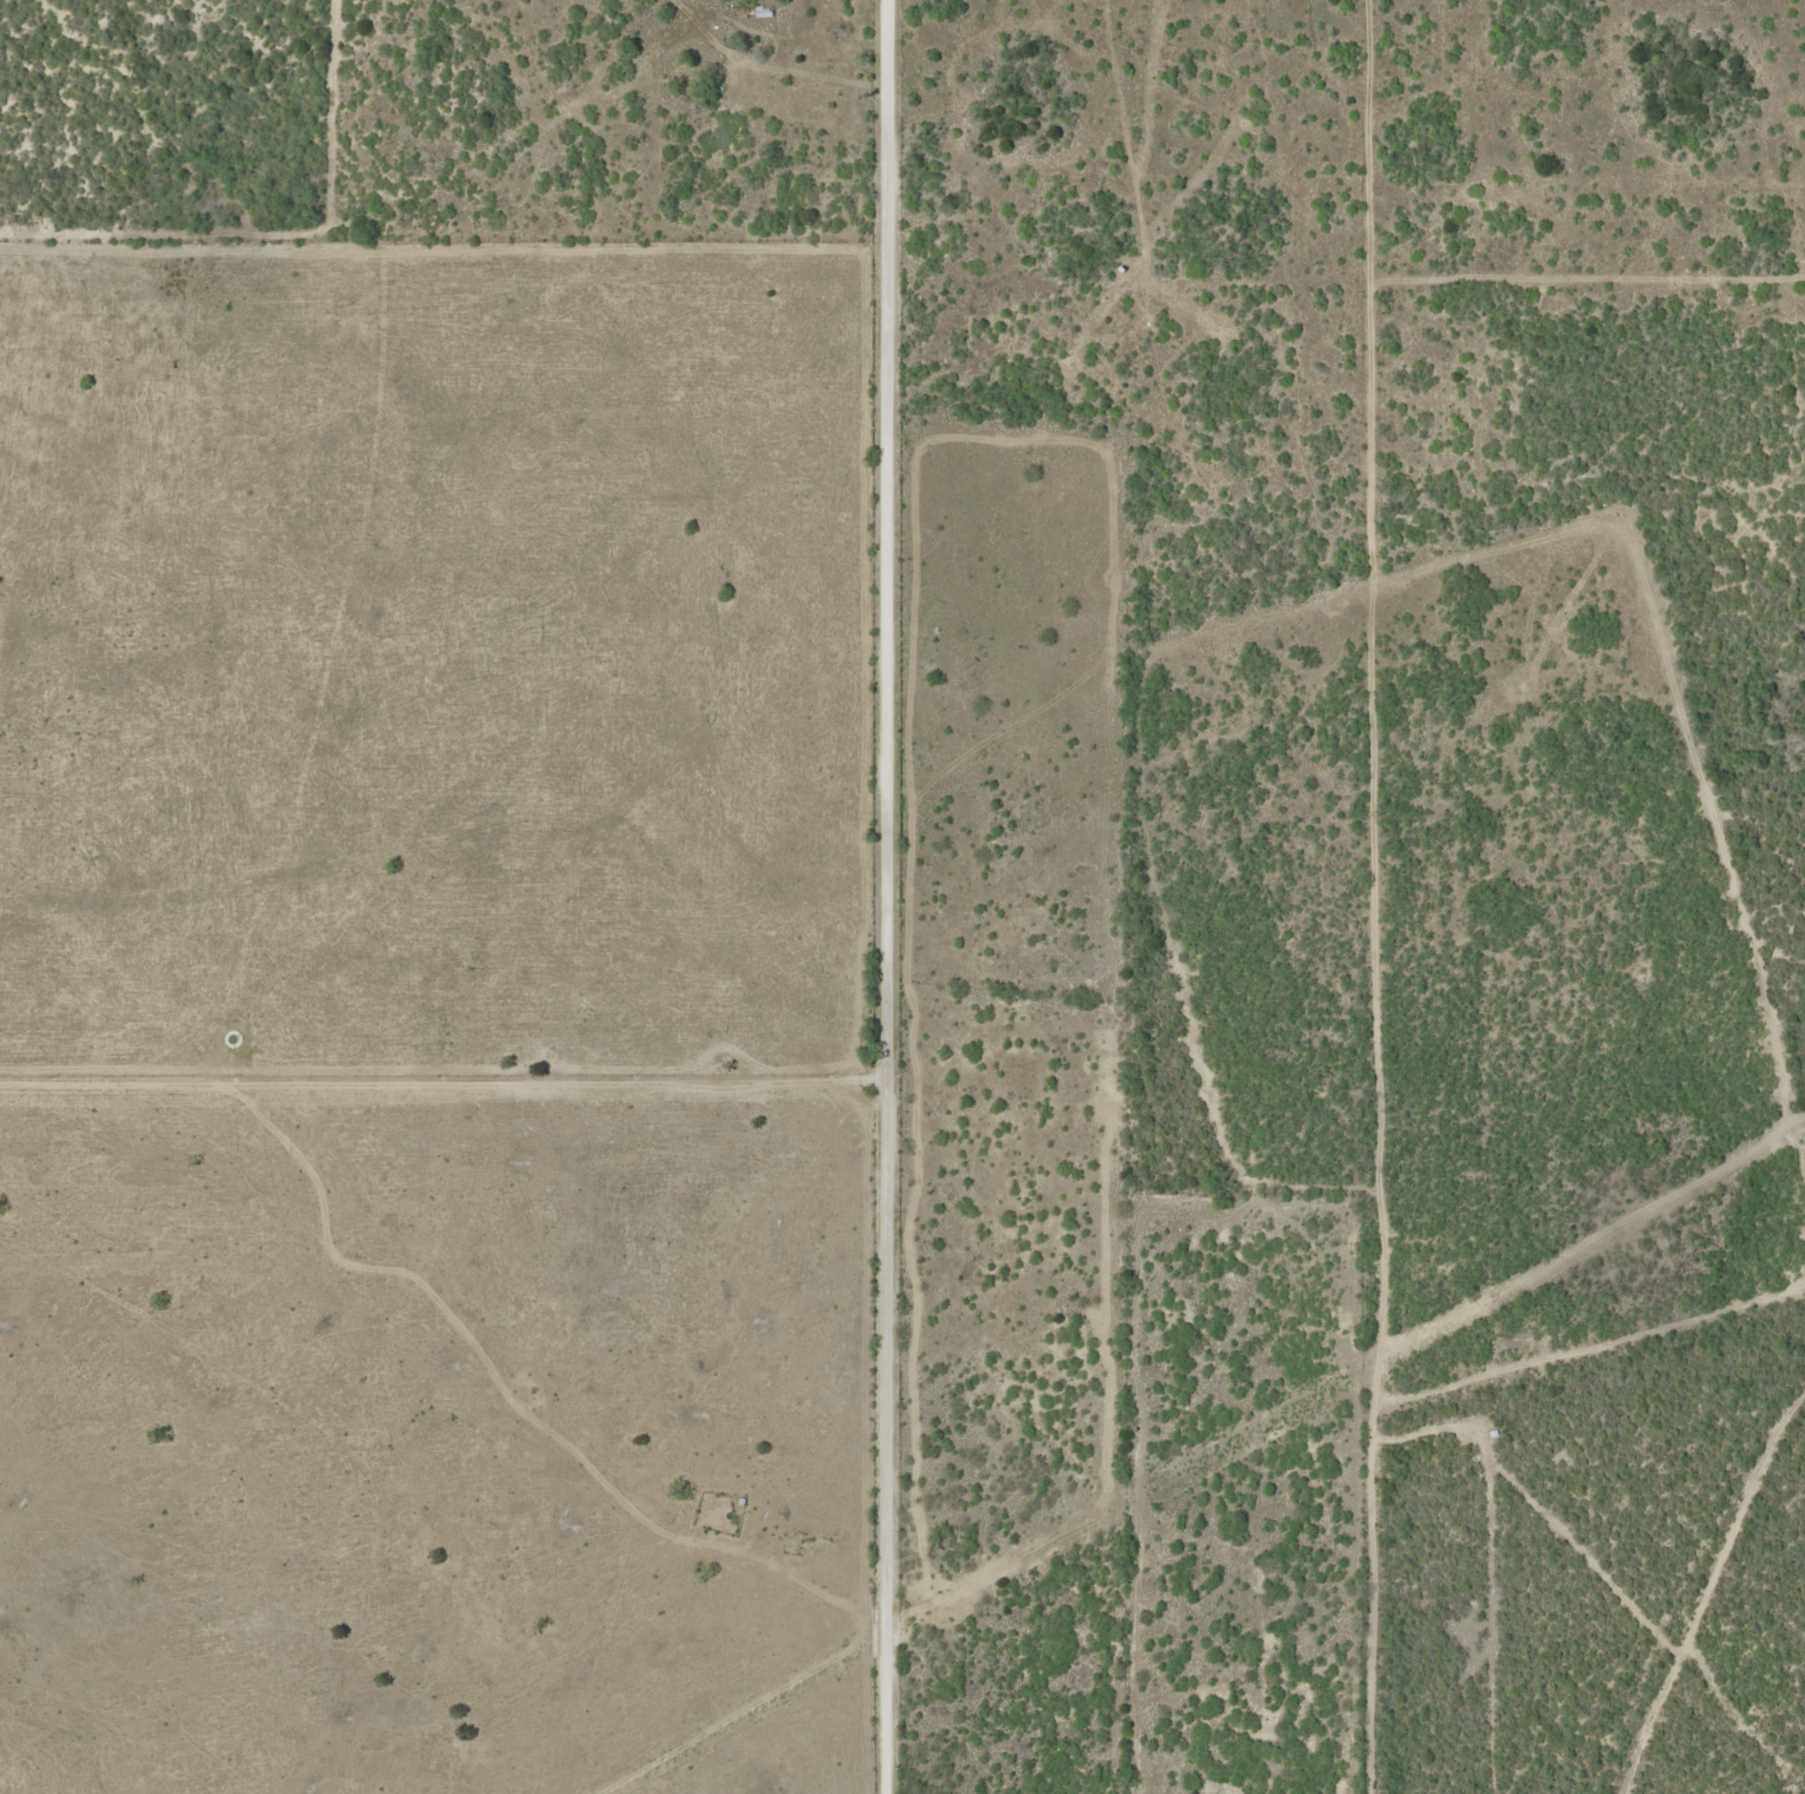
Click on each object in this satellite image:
road: (742, 65)
road: (878, 896)

